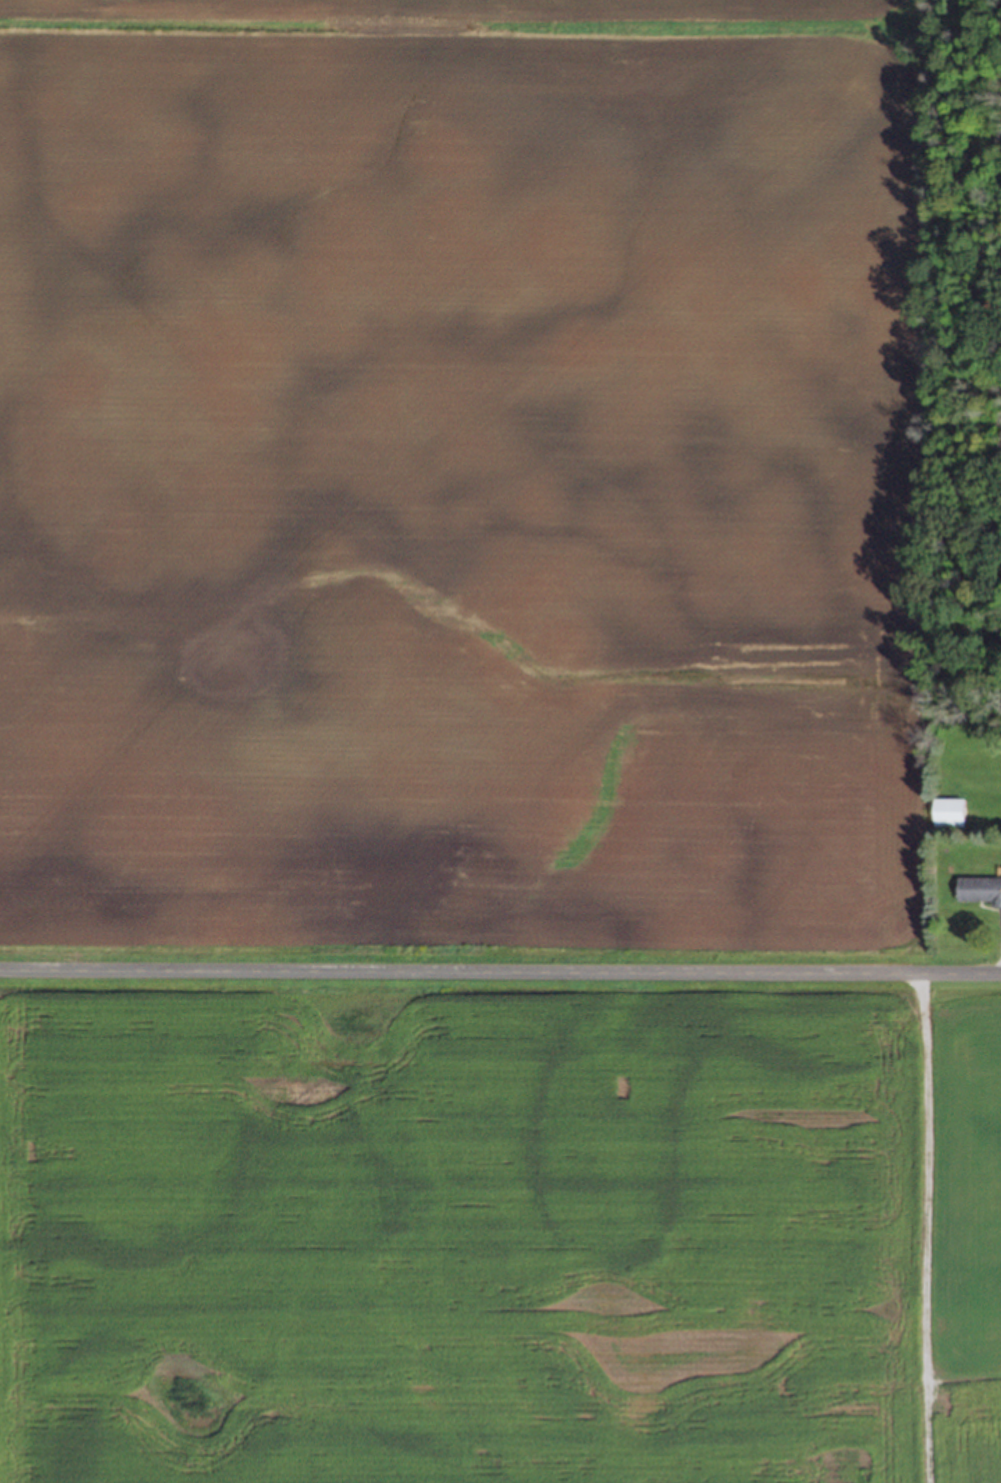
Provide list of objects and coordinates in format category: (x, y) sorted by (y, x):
building: (948, 812)
building: (979, 889)
road: (500, 973)

